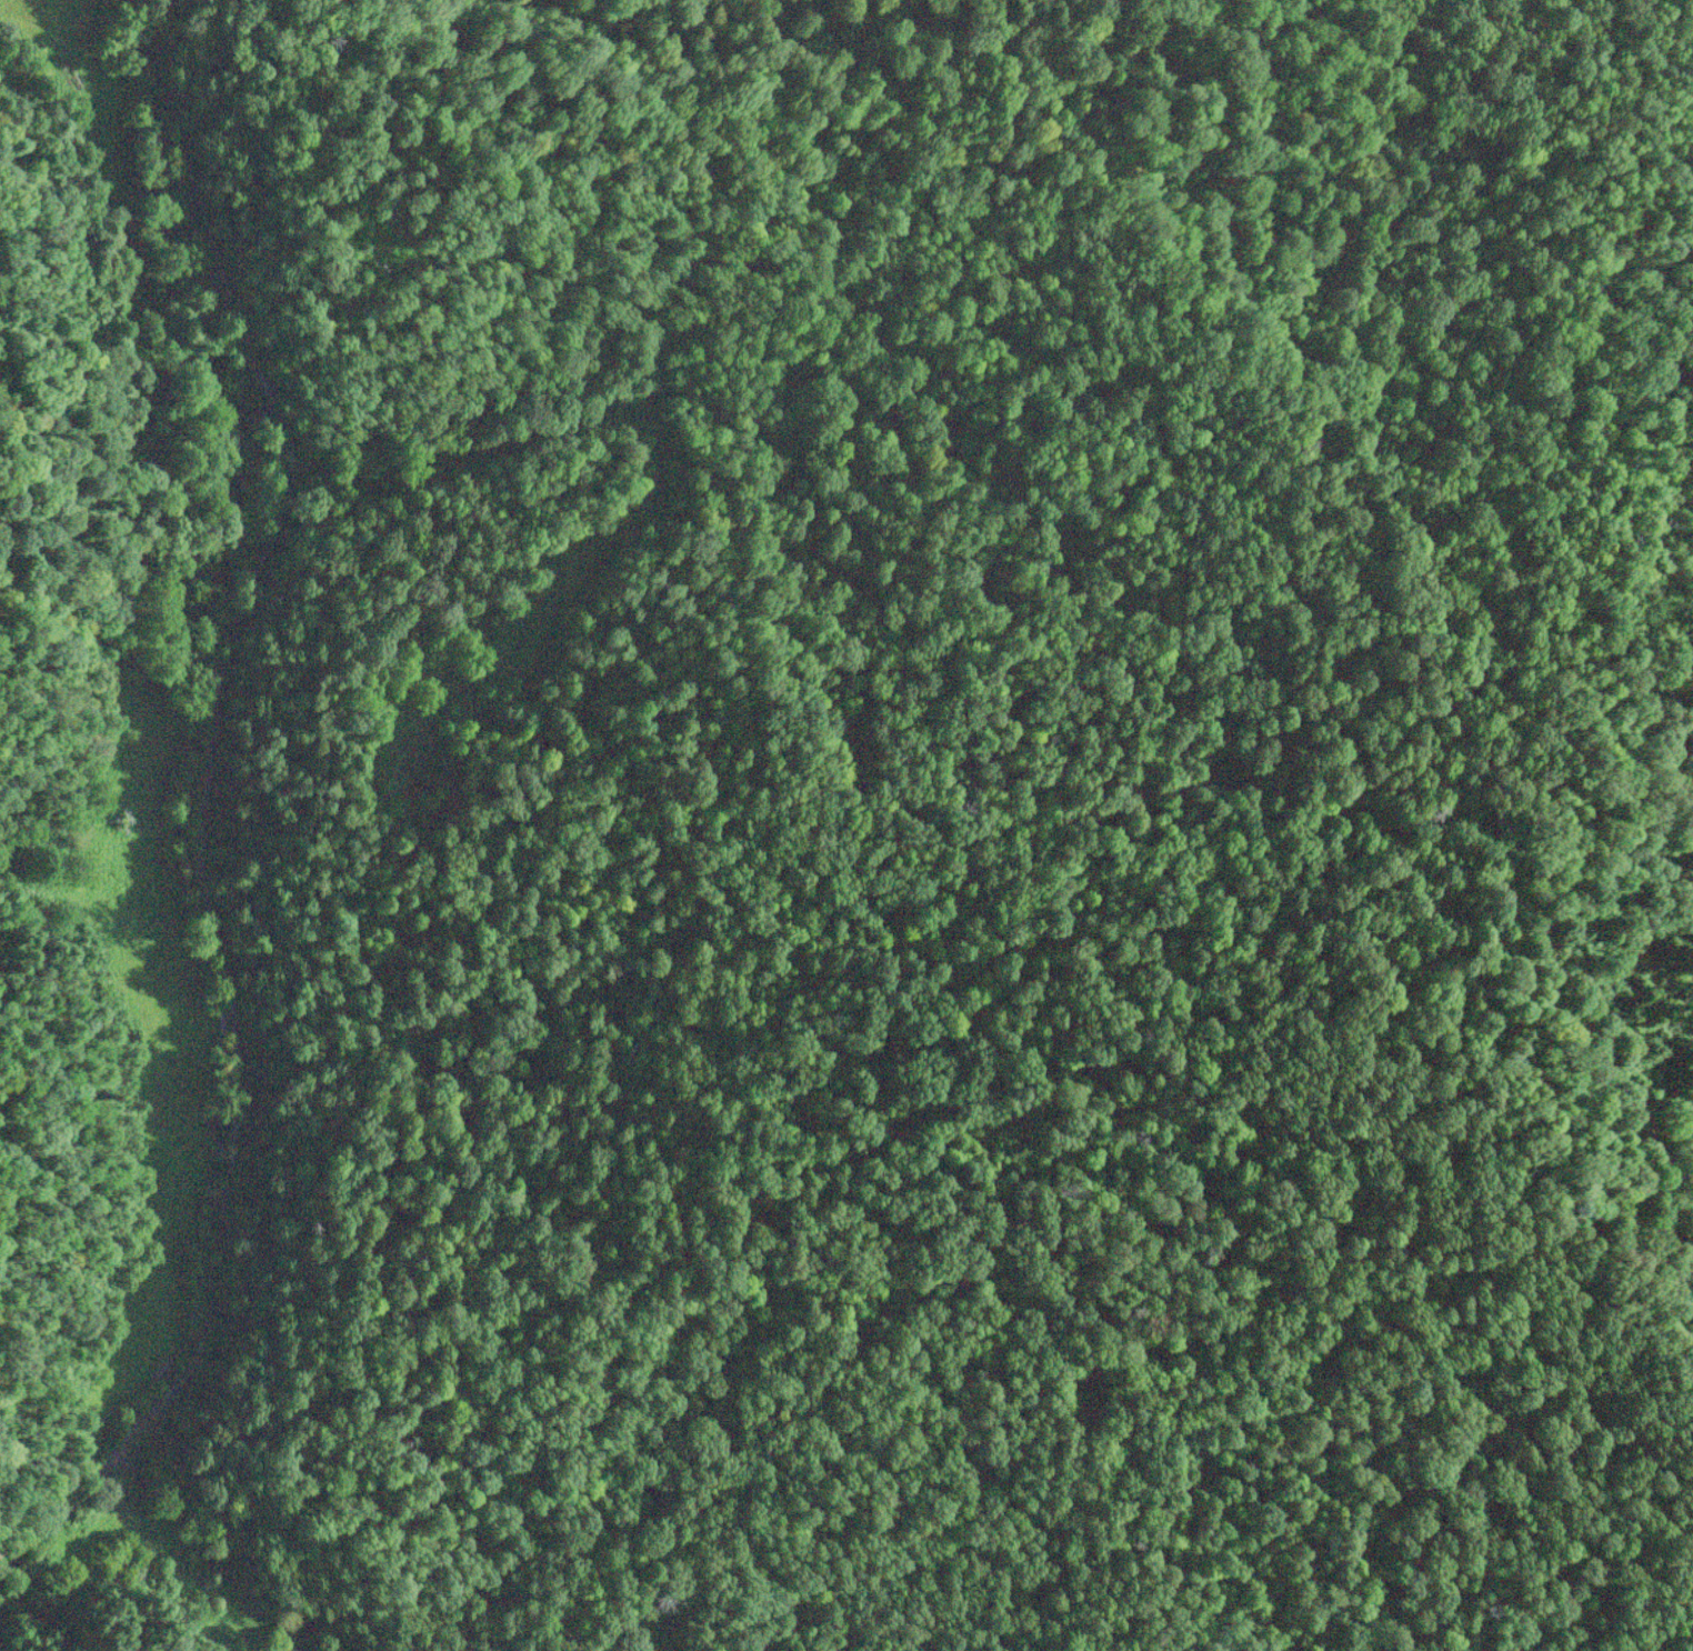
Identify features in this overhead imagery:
road: (607, 410)
road: (211, 821)

